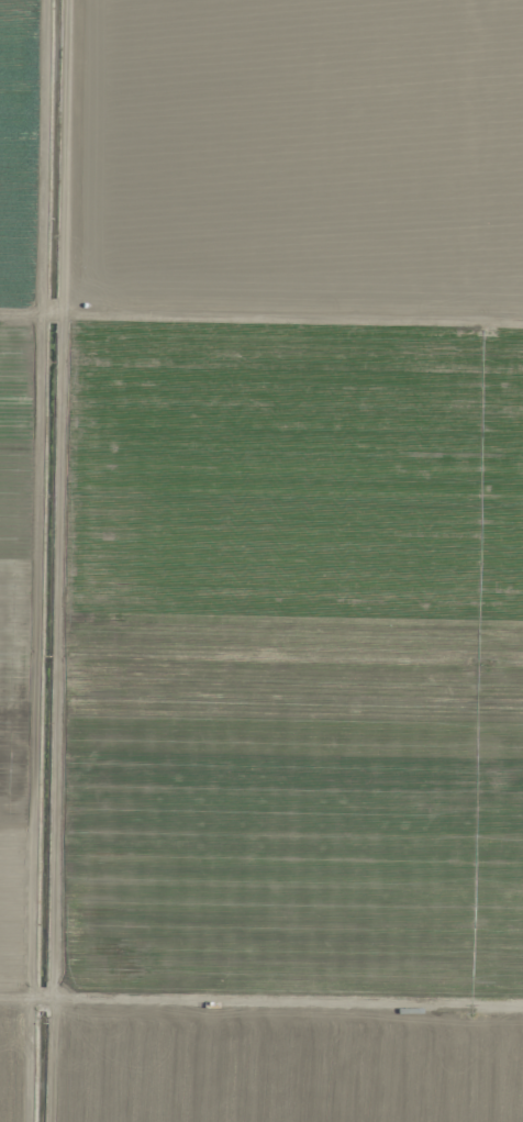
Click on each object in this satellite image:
crop: (261, 560)

